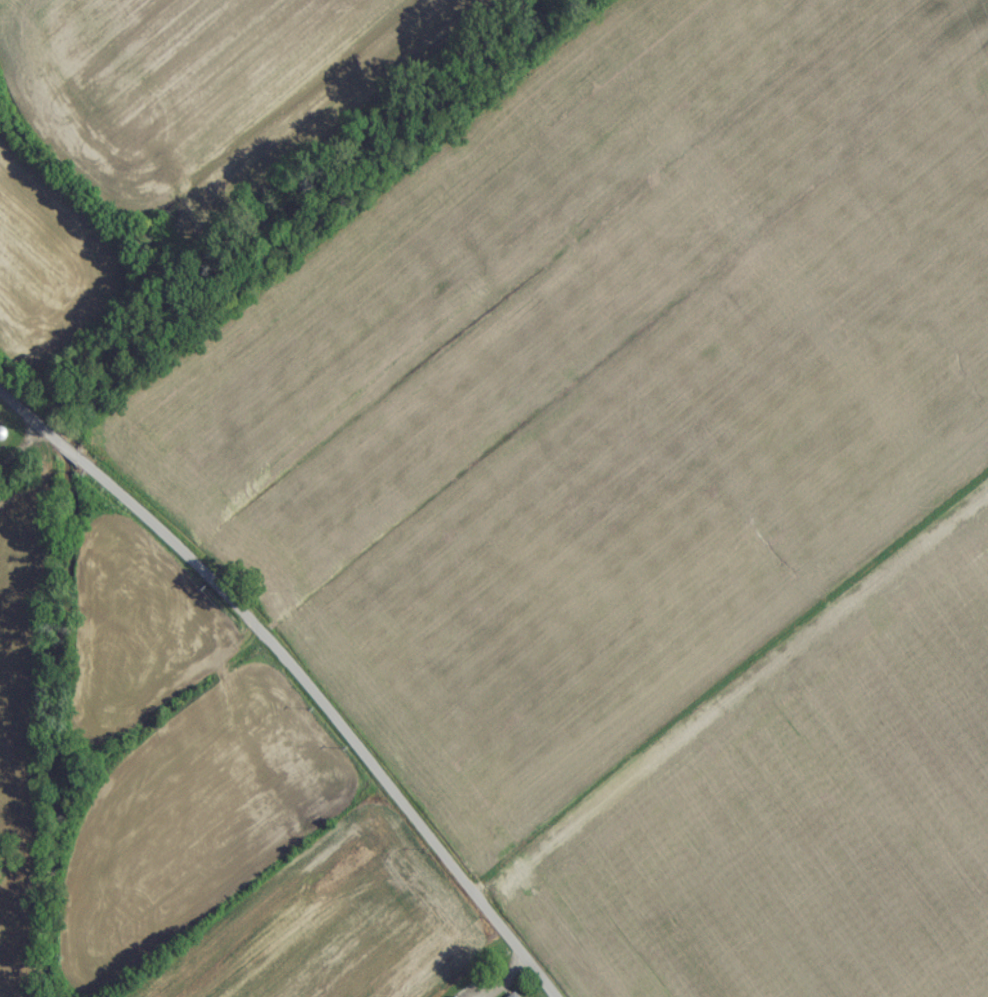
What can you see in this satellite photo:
road: (288, 679)

